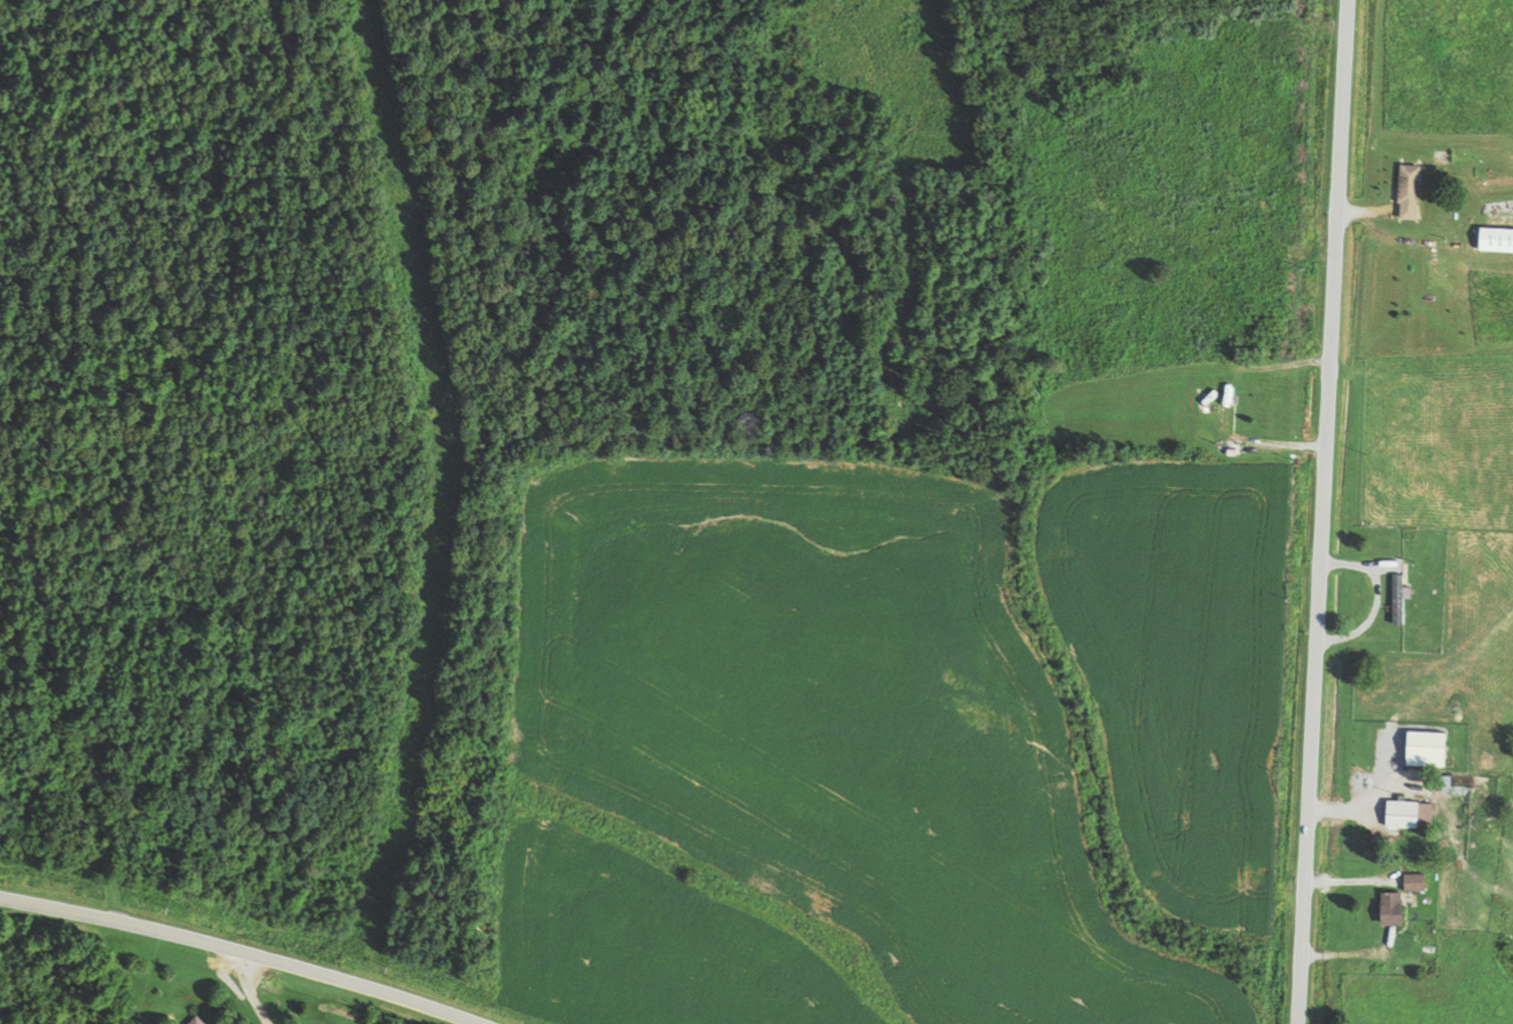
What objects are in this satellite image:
building: (1413, 191)
building: (1498, 239)
building: (1232, 449)
road: (1321, 511)
building: (1412, 814)
building: (1418, 882)
building: (1396, 908)
road: (245, 950)
road: (252, 990)
building: (201, 1020)

